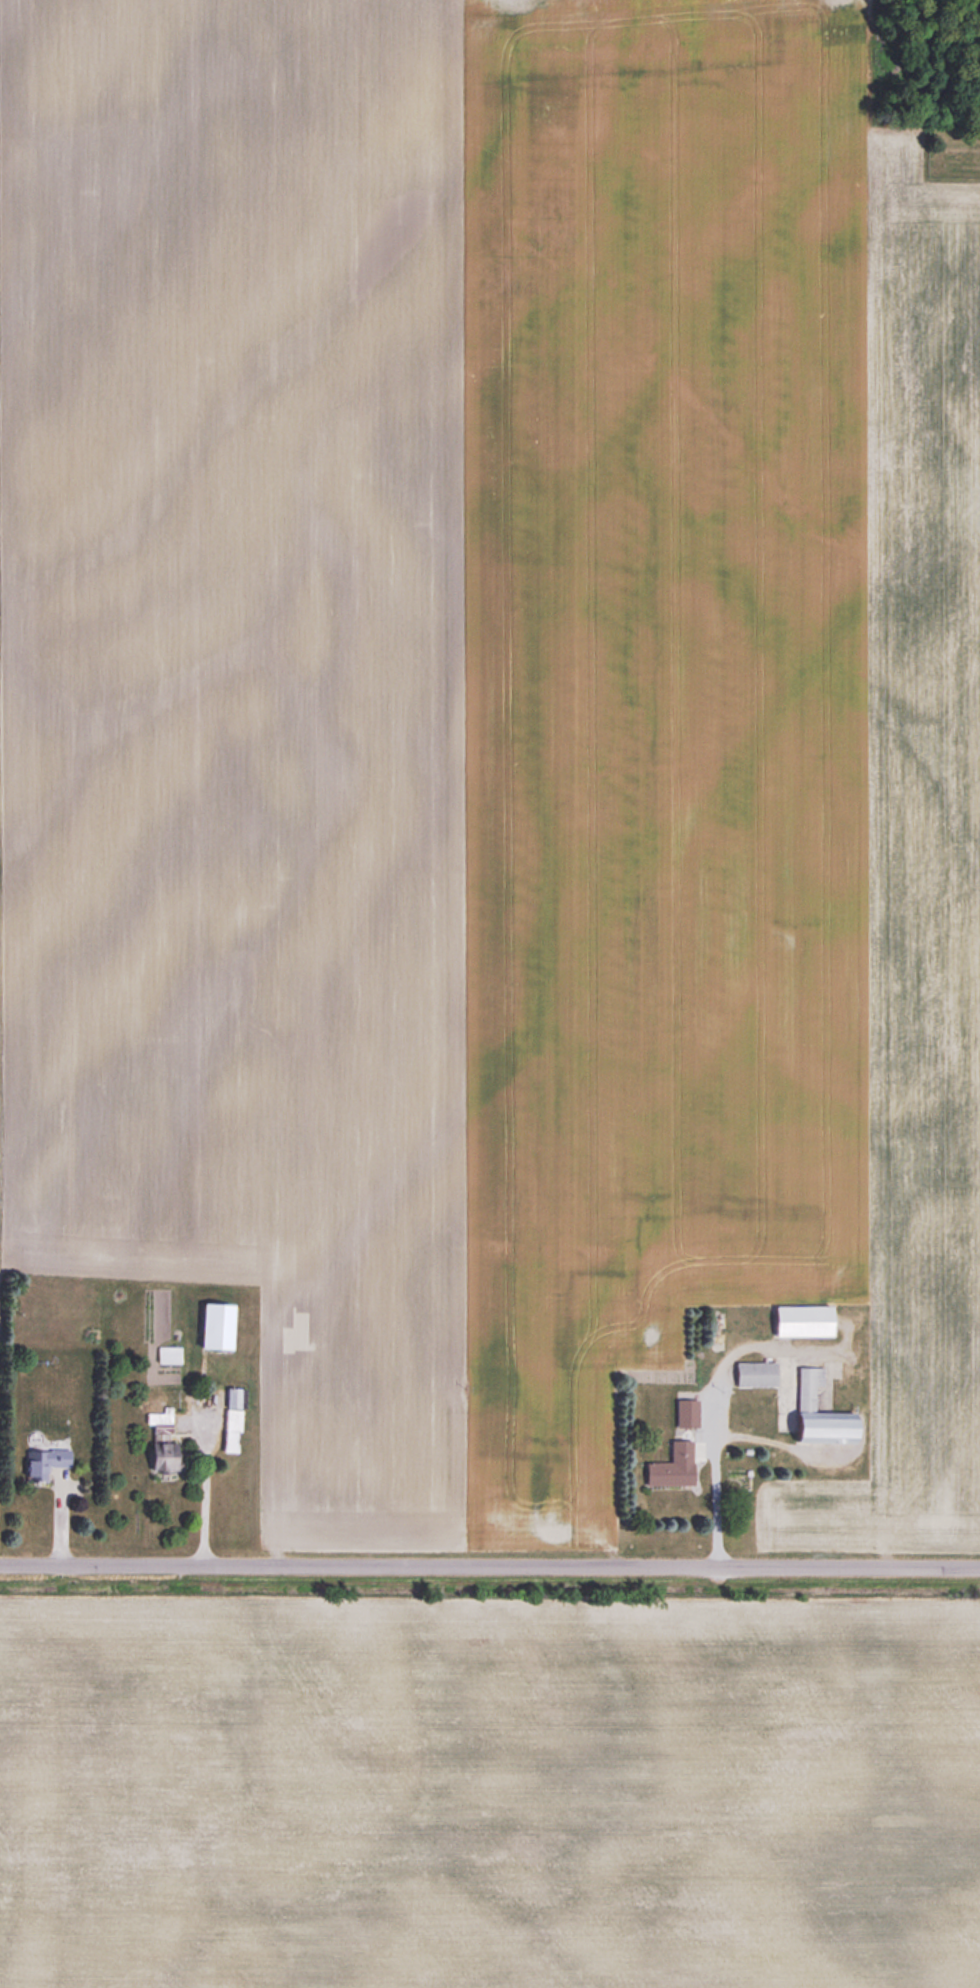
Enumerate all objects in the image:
building: (801, 1320)
building: (214, 1326)
building: (167, 1354)
building: (754, 1373)
building: (817, 1412)
building: (685, 1413)
building: (231, 1419)
building: (159, 1421)
building: (161, 1456)
building: (43, 1463)
building: (671, 1466)
road: (204, 1493)
road: (54, 1518)
road: (490, 1570)

